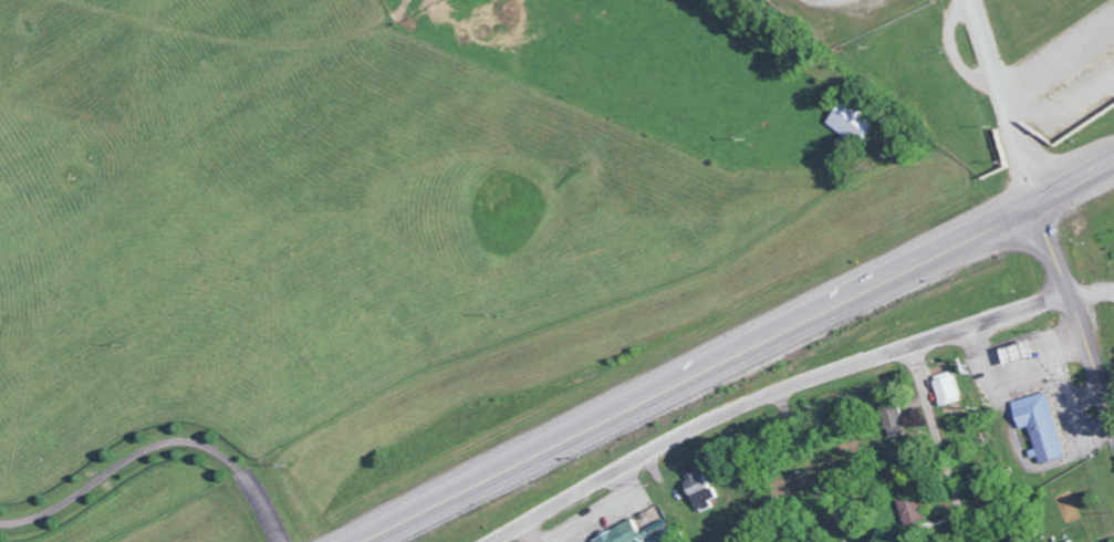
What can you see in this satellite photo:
road: (1000, 98)
road: (1072, 177)
road: (898, 267)
road: (1091, 292)
road: (1077, 323)
road: (1009, 368)
building: (945, 388)
road: (769, 394)
road: (1084, 397)
building: (1039, 424)
road: (1094, 432)
road: (563, 439)
road: (155, 442)
road: (939, 444)
road: (1059, 461)
building: (697, 487)
building: (633, 532)

